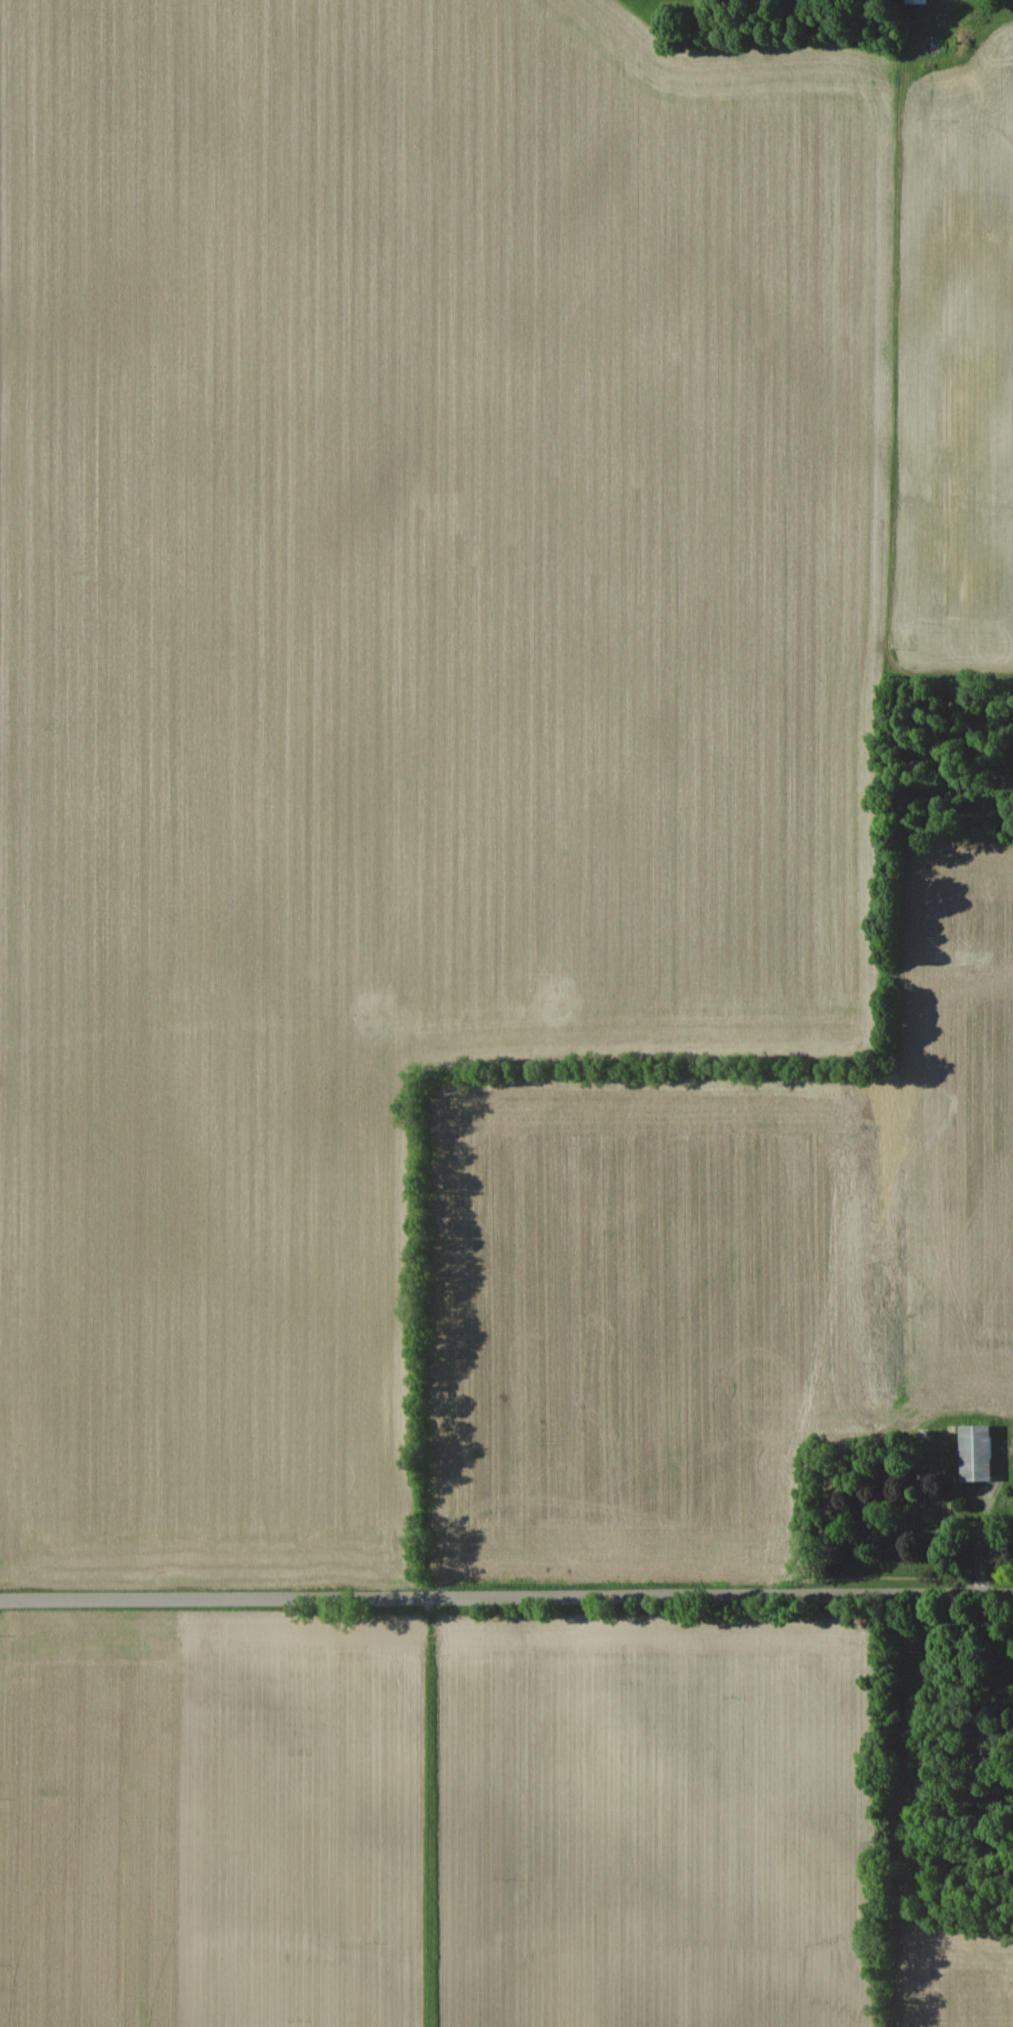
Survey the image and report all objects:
building: (916, 1)
building: (972, 1453)
road: (506, 1598)

